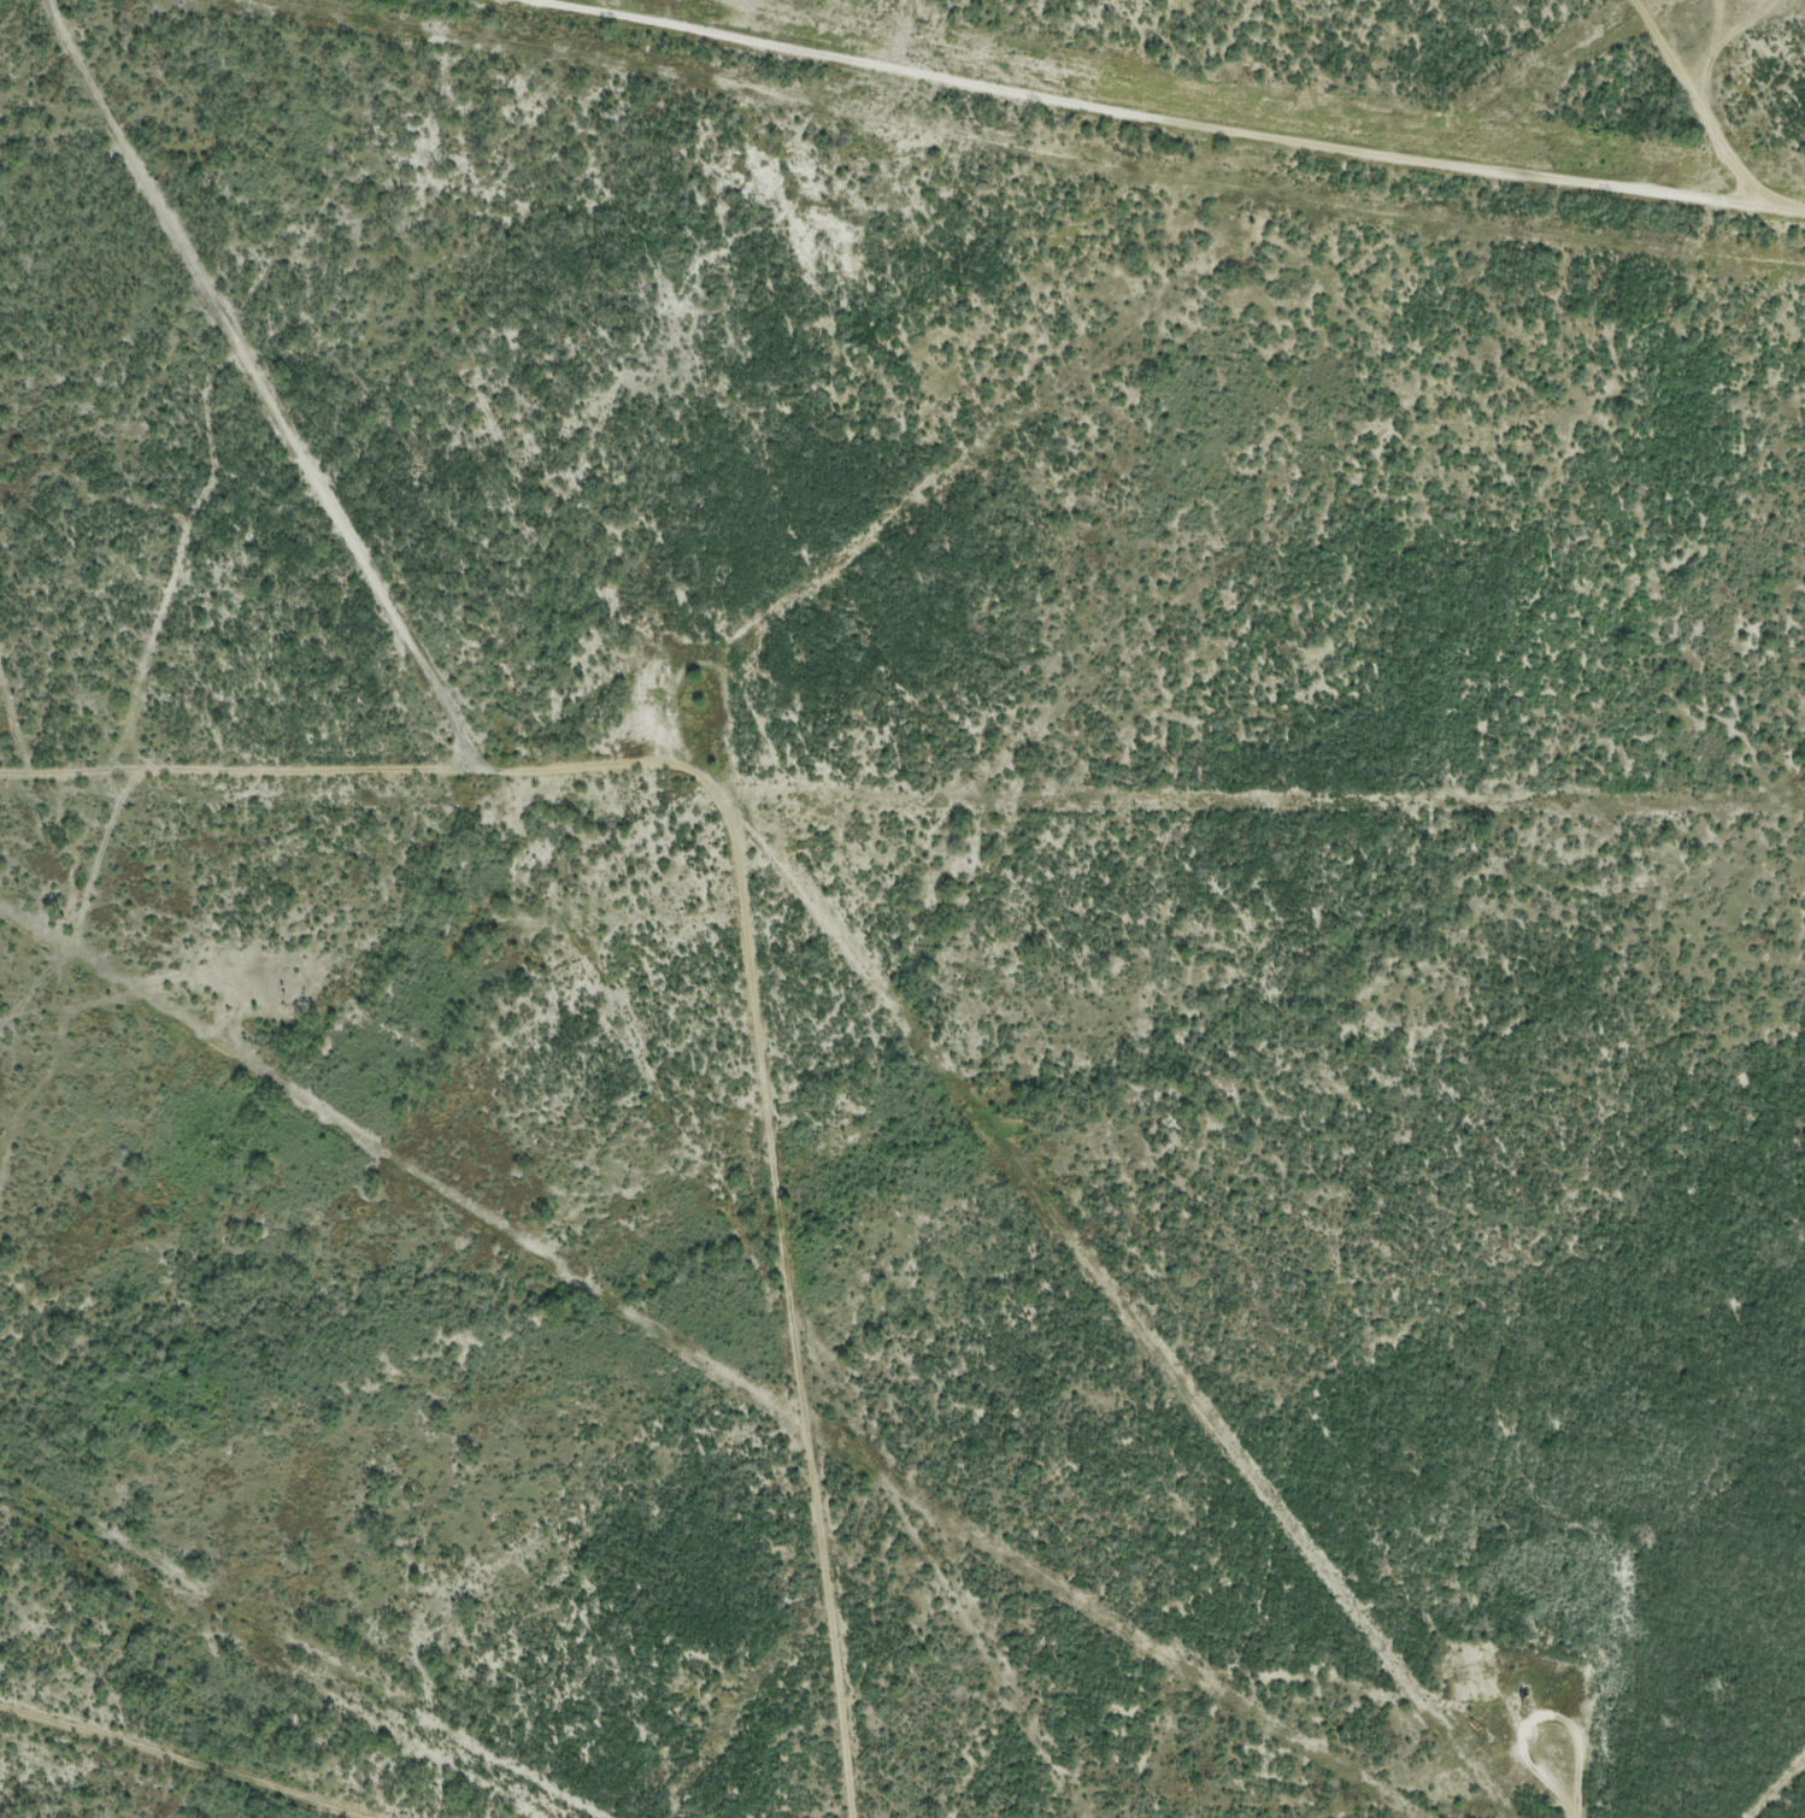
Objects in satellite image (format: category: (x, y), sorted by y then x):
road: (1704, 118)

